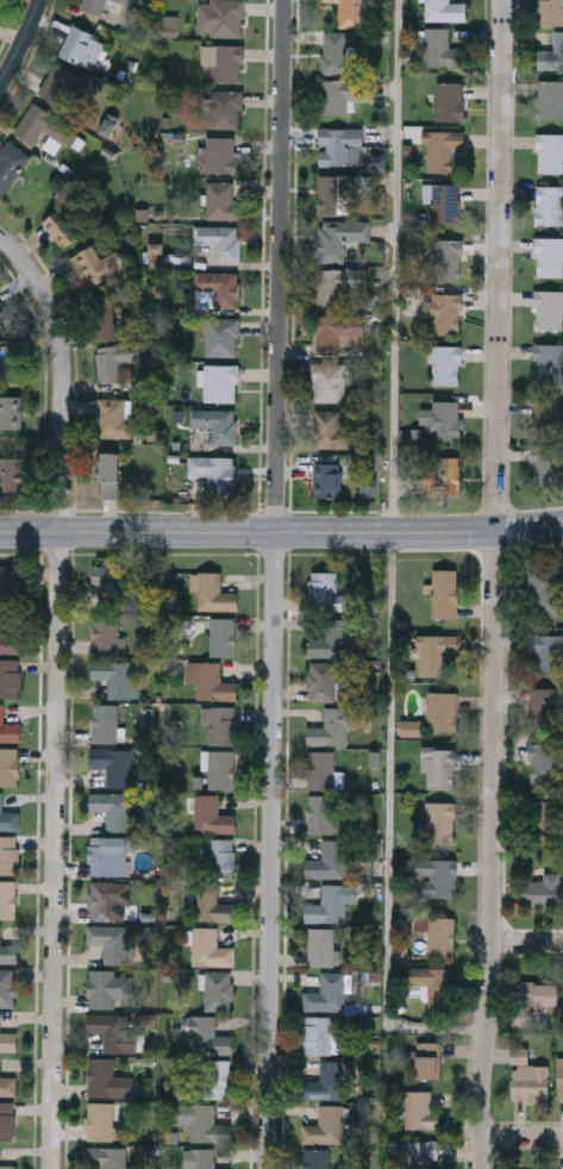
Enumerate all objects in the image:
building: (126, 1)
building: (94, 6)
building: (444, 10)
building: (349, 12)
building: (550, 12)
building: (220, 18)
road: (23, 45)
building: (82, 46)
building: (442, 49)
building: (336, 52)
building: (551, 54)
building: (221, 63)
building: (64, 85)
building: (342, 93)
building: (550, 99)
building: (449, 100)
building: (225, 108)
building: (42, 124)
building: (339, 145)
building: (442, 149)
building: (550, 151)
building: (221, 154)
building: (11, 163)
building: (336, 193)
building: (221, 200)
building: (445, 202)
building: (549, 204)
building: (62, 226)
building: (338, 237)
building: (220, 239)
building: (549, 256)
building: (445, 257)
building: (98, 263)
road: (283, 264)
building: (338, 282)
building: (217, 289)
building: (548, 308)
building: (2, 311)
building: (444, 311)
building: (104, 317)
building: (336, 331)
building: (221, 337)
building: (114, 361)
building: (548, 362)
building: (8, 363)
building: (446, 364)
road: (62, 373)
building: (329, 381)
building: (221, 382)
building: (11, 411)
building: (546, 417)
building: (113, 418)
building: (445, 419)
building: (217, 423)
building: (332, 429)
building: (546, 463)
building: (214, 471)
building: (11, 473)
building: (110, 474)
building: (442, 476)
building: (327, 480)
road: (281, 529)
road: (387, 563)
building: (113, 576)
building: (10, 582)
building: (323, 584)
road: (498, 584)
building: (545, 588)
building: (213, 590)
building: (445, 590)
building: (105, 632)
building: (223, 634)
building: (8, 636)
building: (332, 638)
building: (546, 649)
building: (434, 651)
building: (115, 675)
building: (10, 676)
building: (212, 680)
building: (321, 680)
building: (544, 706)
building: (442, 709)
building: (105, 721)
building: (223, 724)
building: (333, 725)
building: (6, 726)
building: (544, 759)
building: (113, 764)
building: (10, 765)
building: (439, 765)
building: (219, 767)
building: (320, 768)
building: (113, 807)
building: (324, 812)
building: (212, 813)
building: (8, 818)
building: (542, 818)
building: (440, 820)
road: (56, 849)
road: (275, 849)
building: (8, 852)
building: (110, 854)
building: (218, 856)
building: (329, 859)
building: (436, 874)
building: (543, 889)
building: (8, 898)
building: (105, 900)
building: (212, 902)
building: (330, 904)
building: (438, 931)
building: (112, 939)
road: (528, 944)
building: (320, 945)
building: (209, 946)
building: (8, 951)
building: (433, 983)
building: (7, 986)
building: (108, 987)
building: (219, 989)
building: (329, 992)
building: (114, 1029)
building: (317, 1033)
building: (207, 1034)
building: (8, 1039)
building: (428, 1058)
building: (561, 1075)
building: (217, 1076)
building: (107, 1077)
building: (326, 1080)
building: (531, 1081)
building: (8, 1084)
building: (419, 1107)
building: (7, 1118)
building: (99, 1119)
building: (202, 1120)
building: (325, 1125)
road: (521, 1137)
building: (418, 1152)
building: (106, 1155)
building: (204, 1158)
building: (317, 1158)
building: (7, 1165)

